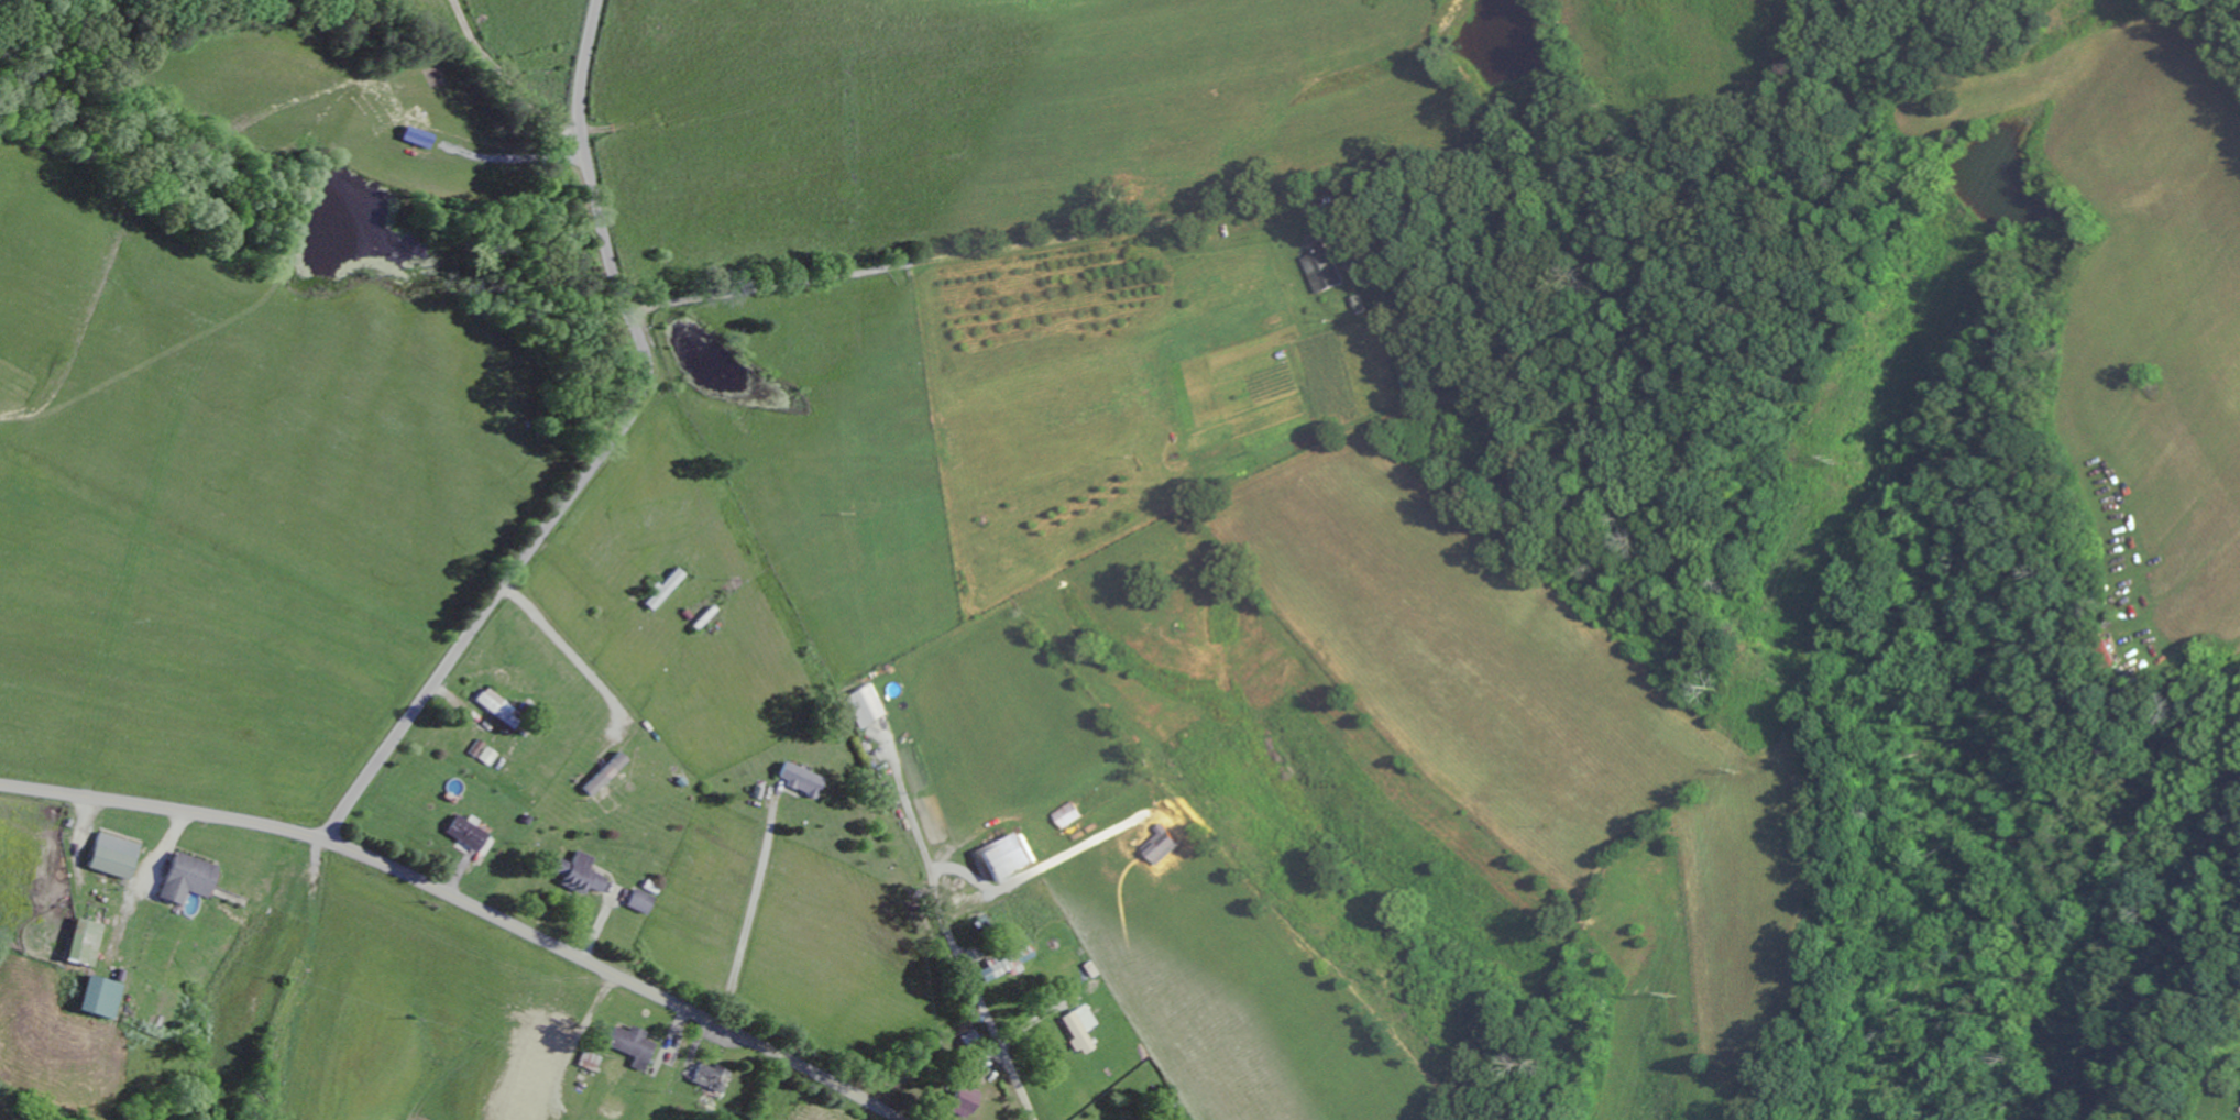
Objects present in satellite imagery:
road: (820, 28)
road: (871, 46)
building: (421, 140)
building: (1338, 237)
road: (987, 254)
building: (1327, 267)
building: (1416, 387)
road: (607, 454)
power tower: (1834, 461)
building: (502, 709)
building: (869, 709)
building: (480, 749)
building: (491, 757)
power tower: (1742, 771)
building: (608, 776)
building: (804, 780)
building: (1074, 817)
building: (470, 835)
building: (118, 857)
building: (1015, 859)
building: (583, 876)
building: (193, 880)
road: (466, 902)
building: (644, 902)
power tower: (1670, 996)
building: (102, 999)
road: (980, 1004)
building: (1084, 1030)
building: (637, 1047)
building: (716, 1079)
building: (970, 1100)

